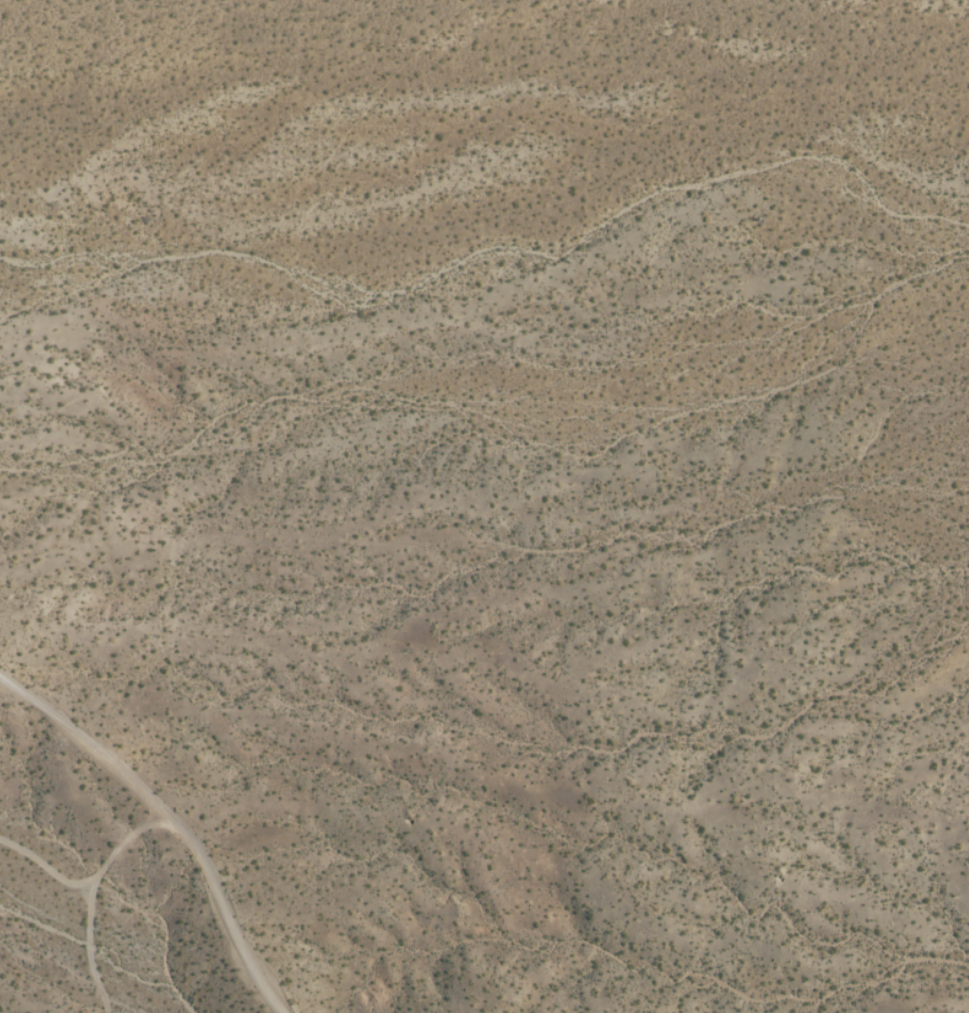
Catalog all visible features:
road: (175, 817)

